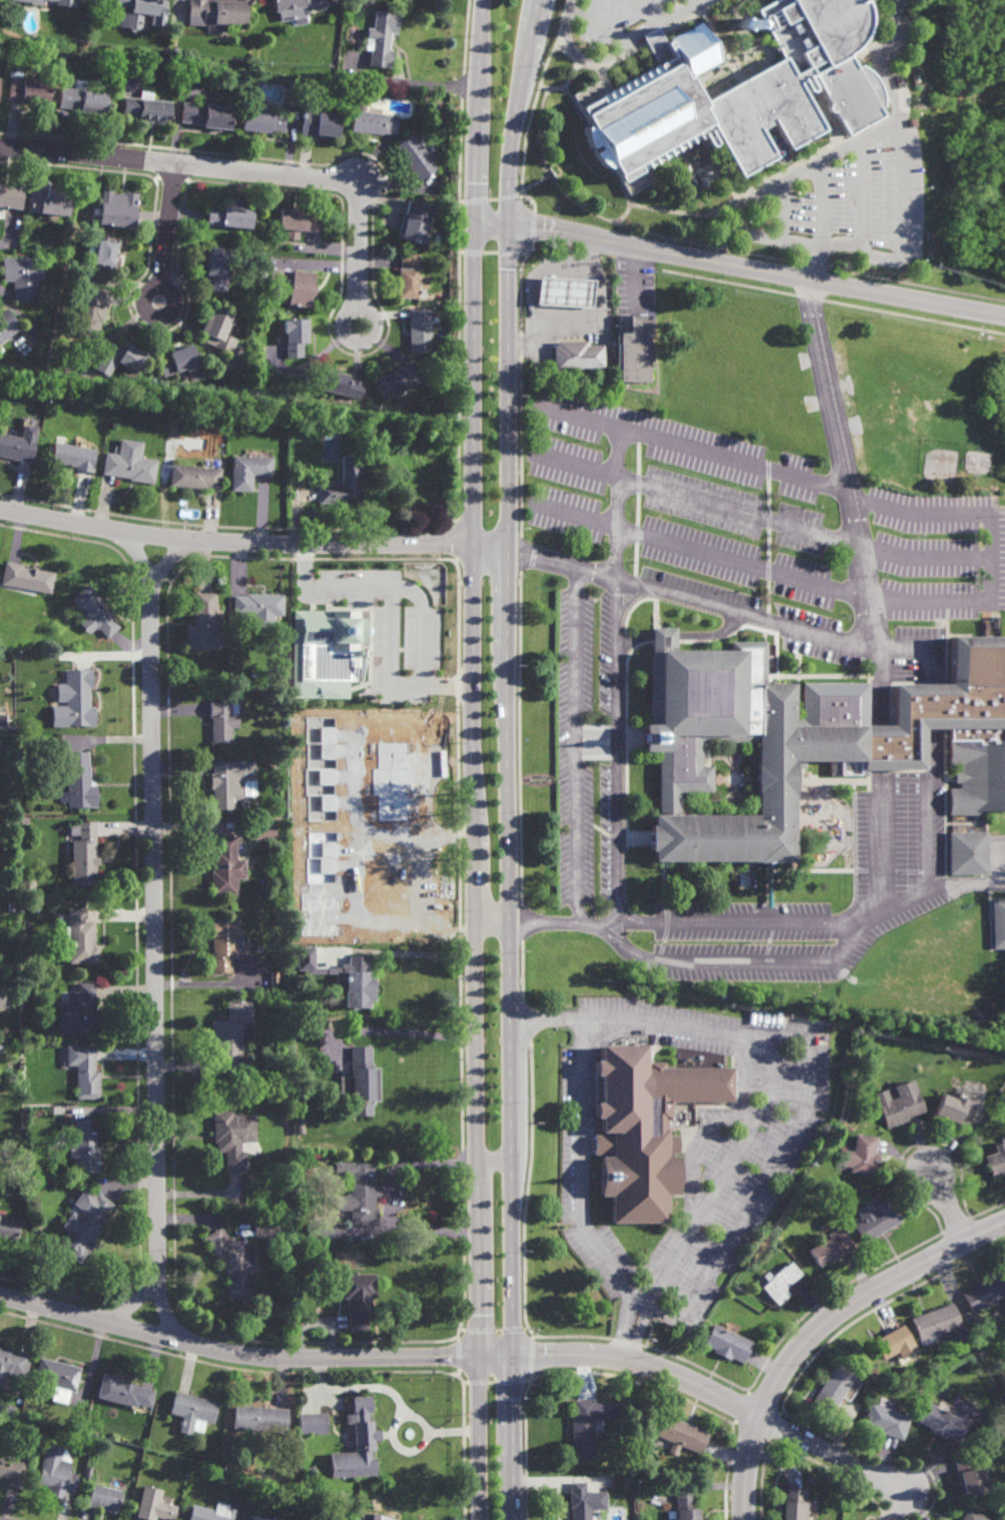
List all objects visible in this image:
road: (696, 2)
building: (66, 5)
building: (295, 7)
building: (139, 11)
road: (647, 11)
building: (217, 13)
building: (741, 24)
road: (599, 26)
building: (381, 39)
road: (617, 51)
road: (878, 63)
building: (29, 89)
building: (736, 91)
building: (415, 94)
building: (83, 98)
road: (903, 106)
building: (148, 108)
building: (437, 110)
building: (206, 113)
building: (262, 118)
building: (374, 122)
building: (911, 122)
building: (321, 123)
building: (416, 157)
road: (236, 170)
building: (10, 195)
road: (859, 195)
building: (47, 199)
building: (118, 208)
road: (781, 213)
road: (738, 214)
building: (232, 215)
traffic signals: (474, 217)
building: (299, 222)
building: (418, 222)
traffic signals: (508, 223)
road: (168, 225)
building: (106, 253)
building: (220, 267)
road: (739, 268)
building: (23, 277)
road: (634, 277)
building: (411, 278)
building: (296, 286)
road: (170, 291)
building: (560, 293)
gas station: (560, 293)
road: (364, 310)
building: (92, 311)
road: (582, 317)
building: (6, 326)
building: (218, 330)
building: (420, 330)
building: (296, 336)
building: (634, 352)
building: (574, 356)
building: (123, 360)
building: (182, 363)
building: (398, 381)
building: (341, 387)
road: (574, 416)
building: (19, 445)
road: (838, 448)
building: (74, 457)
road: (731, 460)
building: (131, 464)
building: (249, 472)
building: (195, 478)
building: (345, 485)
road: (754, 516)
road: (252, 542)
road: (171, 559)
building: (28, 579)
road: (322, 594)
road: (628, 600)
road: (864, 600)
building: (62, 603)
building: (260, 609)
building: (95, 614)
building: (205, 625)
road: (418, 630)
road: (683, 636)
building: (334, 648)
road: (920, 652)
road: (508, 677)
road: (472, 678)
road: (388, 683)
road: (878, 693)
building: (79, 699)
road: (930, 705)
building: (223, 721)
road: (614, 726)
building: (12, 727)
road: (595, 736)
building: (806, 741)
road: (574, 746)
road: (597, 748)
road: (879, 749)
building: (78, 779)
building: (229, 781)
building: (261, 786)
road: (930, 807)
building: (9, 813)
building: (24, 820)
road: (353, 825)
road: (450, 826)
building: (11, 827)
building: (264, 830)
road: (880, 840)
road: (451, 843)
building: (968, 852)
building: (85, 855)
building: (226, 866)
building: (353, 879)
building: (280, 890)
road: (928, 890)
building: (12, 906)
road: (492, 922)
road: (853, 923)
building: (998, 923)
road: (156, 933)
road: (609, 936)
building: (81, 937)
building: (225, 943)
building: (27, 959)
road: (424, 961)
building: (359, 983)
building: (1, 999)
building: (81, 1011)
building: (29, 1031)
road: (405, 1033)
building: (232, 1036)
building: (24, 1044)
building: (84, 1071)
building: (364, 1081)
road: (742, 1081)
building: (901, 1105)
building: (955, 1109)
building: (301, 1127)
building: (642, 1130)
building: (233, 1137)
road: (698, 1144)
building: (85, 1147)
building: (862, 1156)
building: (996, 1160)
road: (494, 1163)
building: (25, 1173)
building: (361, 1196)
road: (706, 1200)
road: (750, 1203)
road: (948, 1205)
building: (875, 1220)
building: (85, 1225)
building: (269, 1227)
building: (9, 1228)
building: (333, 1232)
building: (831, 1248)
building: (234, 1263)
building: (780, 1283)
building: (983, 1295)
building: (360, 1299)
road: (131, 1304)
building: (935, 1322)
road: (820, 1327)
building: (895, 1344)
building: (727, 1345)
road: (253, 1356)
traffic signals: (477, 1357)
traffic signals: (514, 1357)
building: (12, 1365)
road: (641, 1365)
building: (56, 1376)
building: (833, 1388)
building: (123, 1392)
building: (9, 1408)
building: (192, 1409)
building: (259, 1416)
building: (886, 1421)
building: (313, 1422)
building: (941, 1422)
building: (582, 1429)
building: (682, 1433)
road: (479, 1438)
road: (514, 1438)
building: (359, 1443)
road: (832, 1454)
building: (207, 1470)
building: (12, 1471)
building: (56, 1472)
building: (968, 1475)
building: (143, 1478)
building: (104, 1497)
building: (154, 1504)
building: (580, 1504)
building: (795, 1504)
building: (686, 1505)
building: (212, 1512)
building: (971, 1515)
building: (263, 1518)

